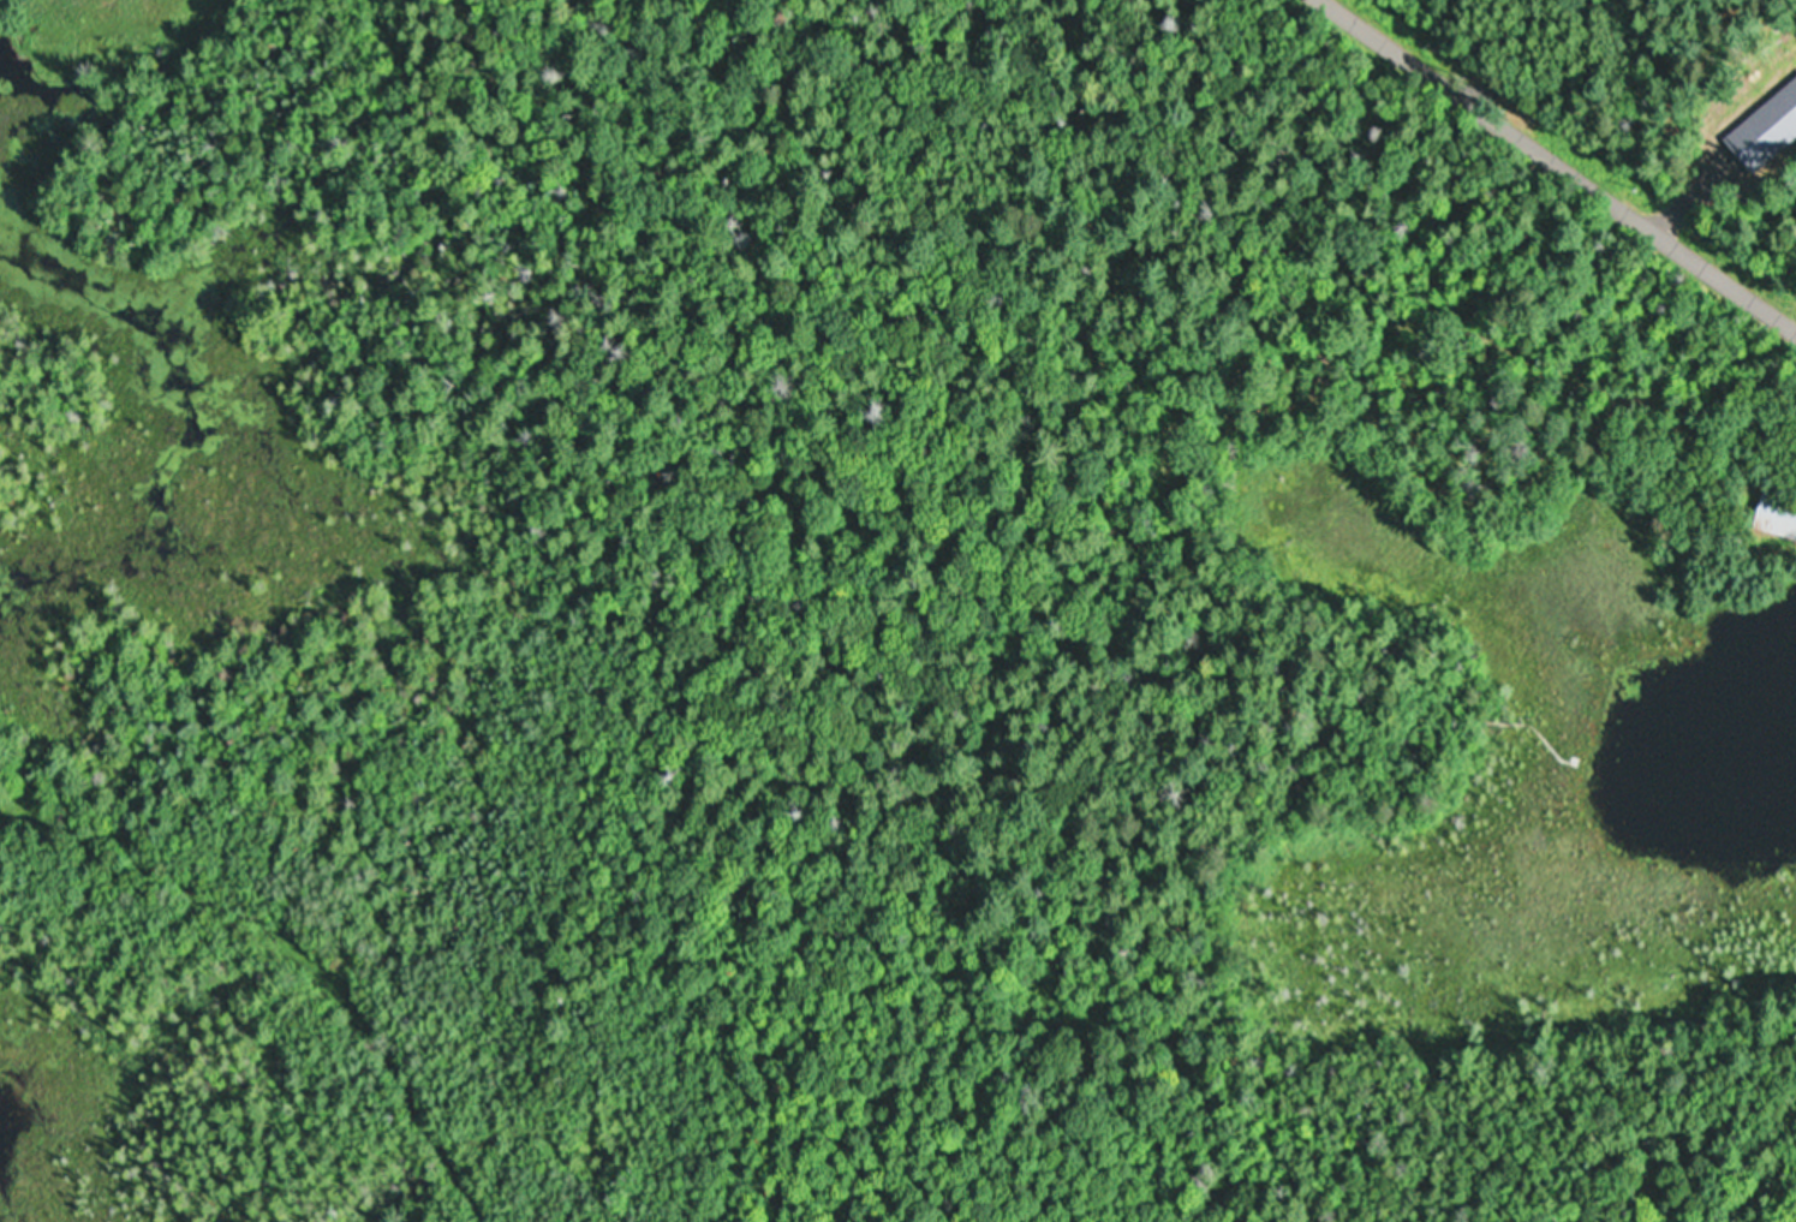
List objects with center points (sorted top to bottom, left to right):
road: (1563, 163)
building: (1774, 515)

